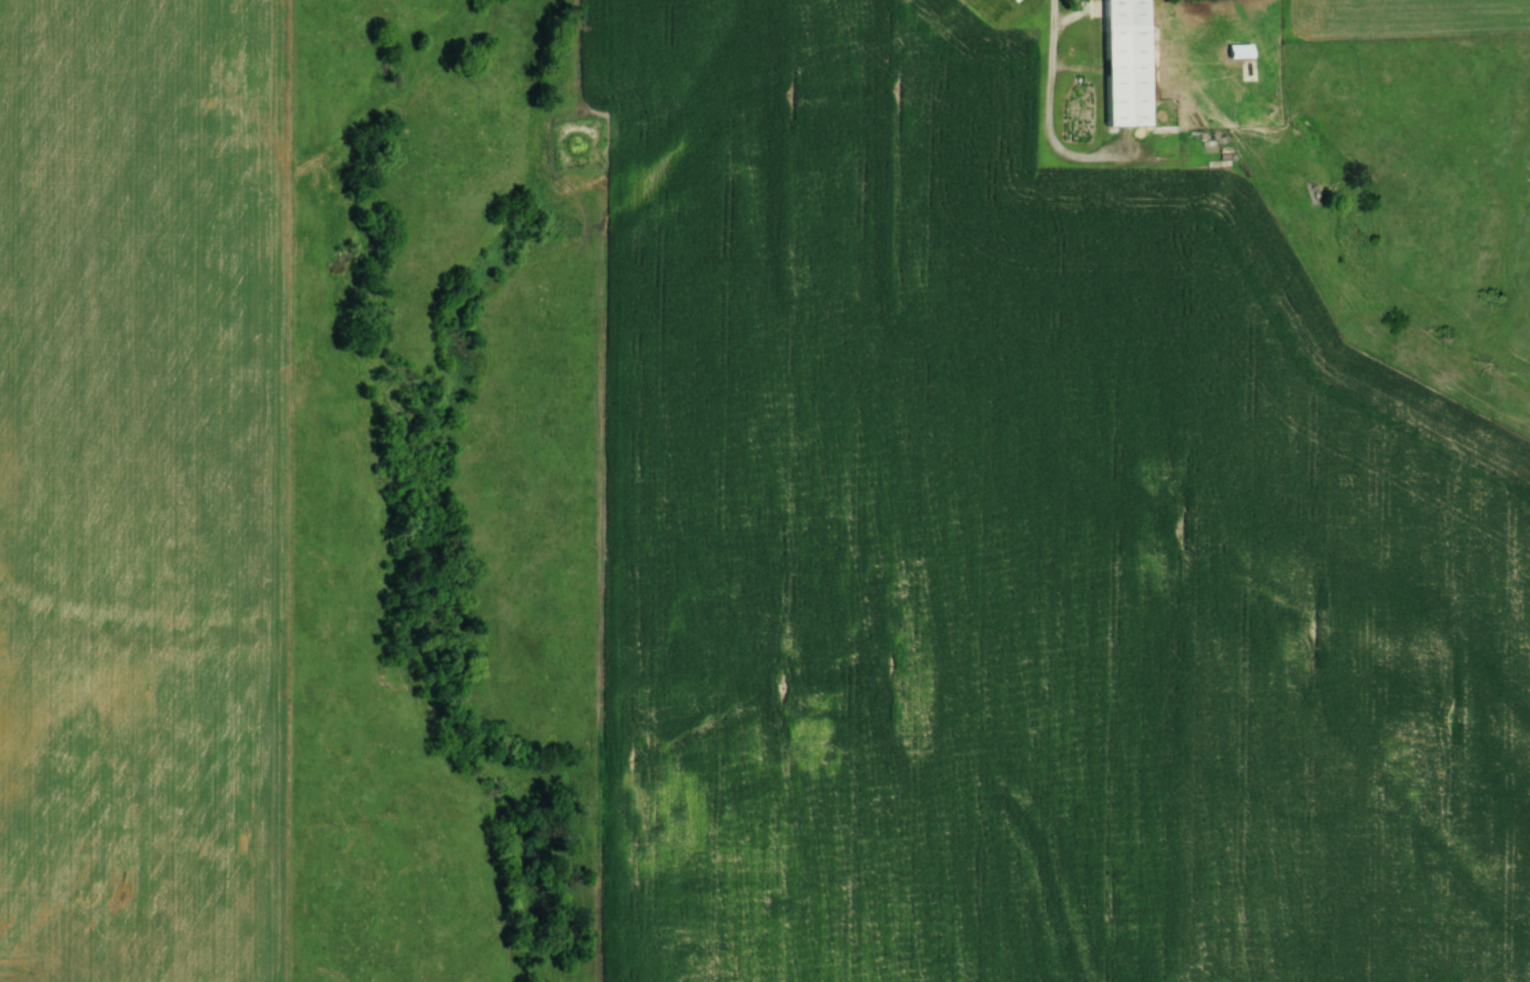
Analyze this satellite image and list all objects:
building: (1237, 51)
building: (1121, 62)

